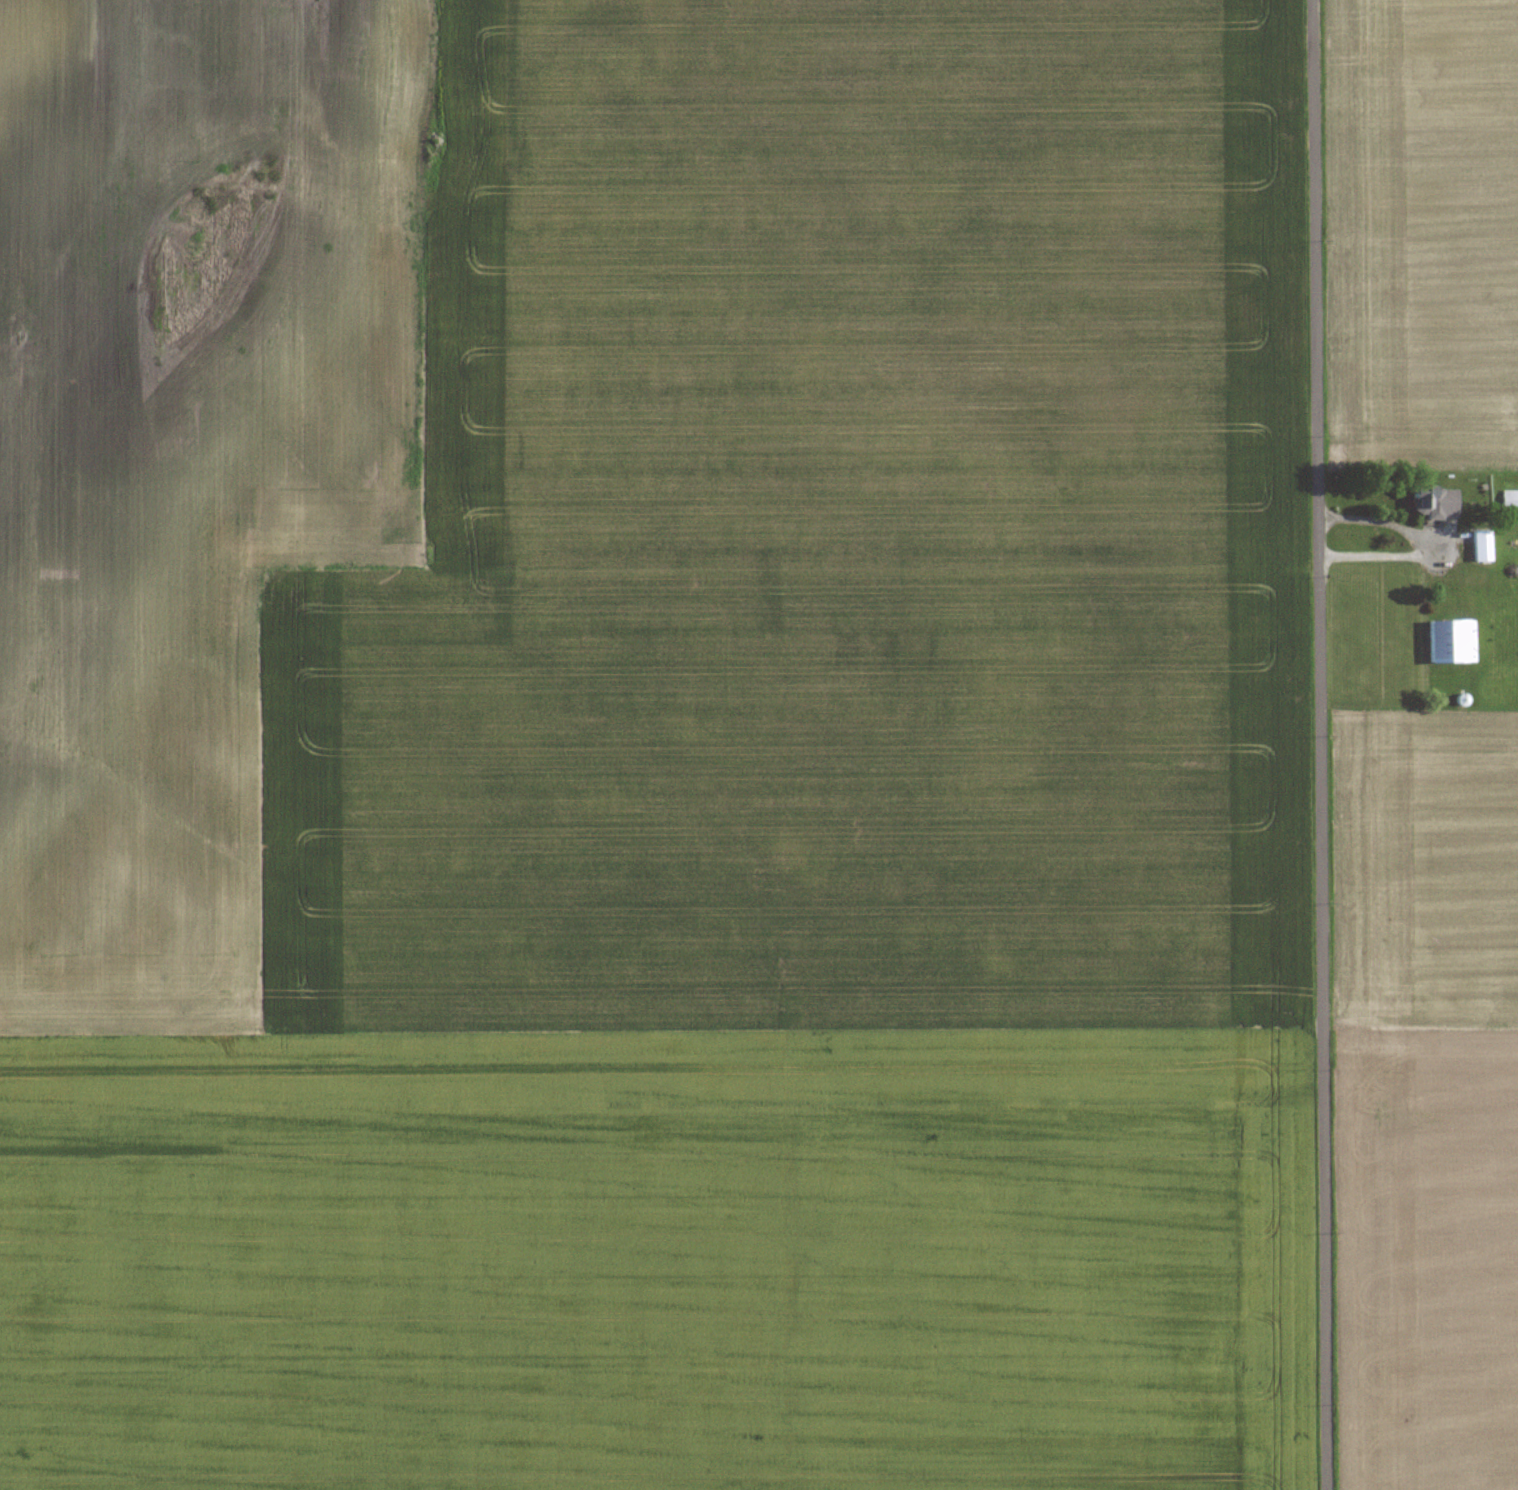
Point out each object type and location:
building: (1508, 498)
building: (1432, 502)
road: (1414, 538)
building: (1479, 546)
building: (1448, 641)
road: (1324, 744)
crop: (651, 746)

